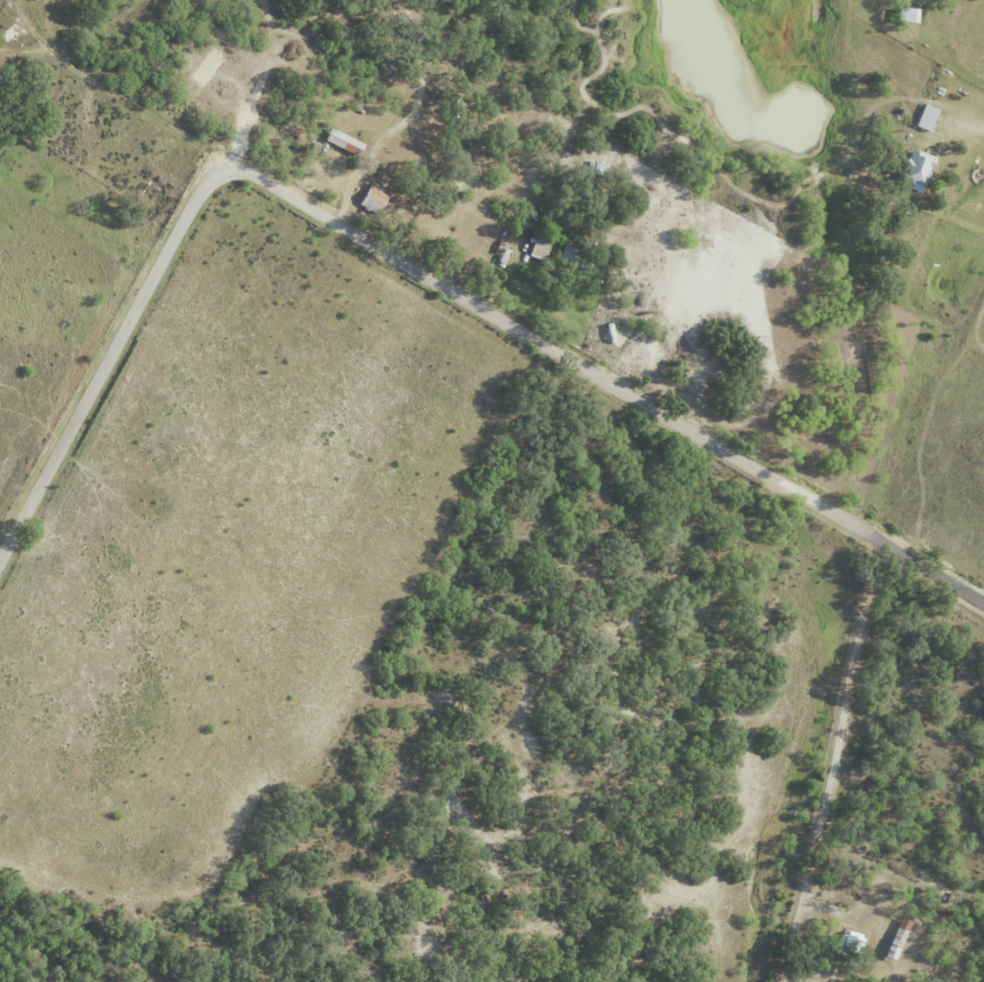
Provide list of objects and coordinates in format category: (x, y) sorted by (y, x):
building: (908, 15)
building: (925, 117)
road: (974, 125)
building: (915, 171)
building: (374, 193)
building: (539, 249)
road: (109, 355)
road: (609, 381)
road: (835, 762)
building: (901, 938)

